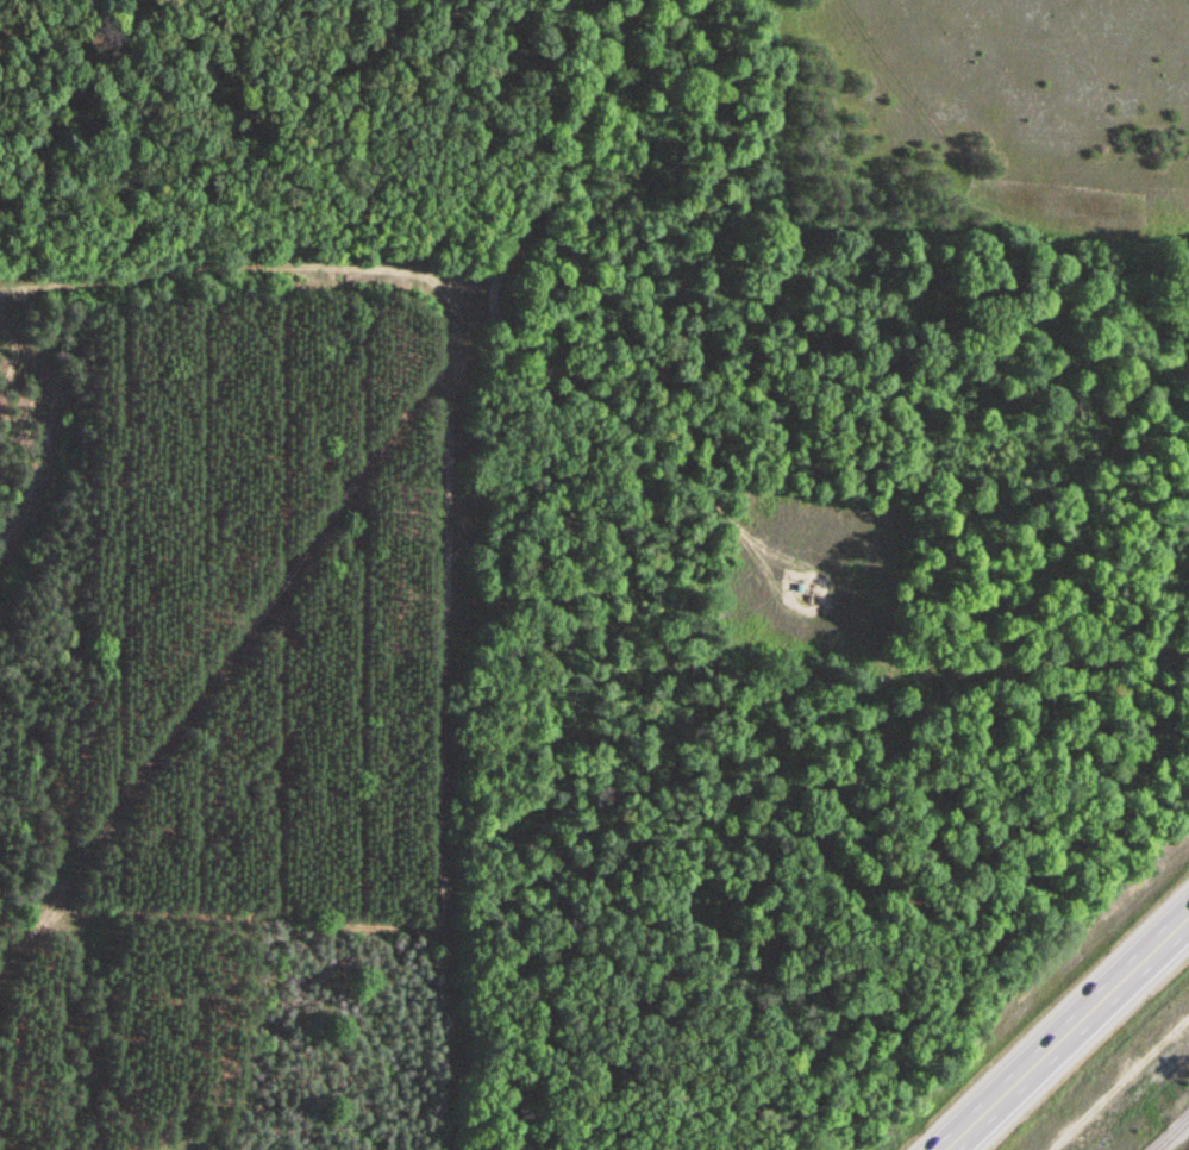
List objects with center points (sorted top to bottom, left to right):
road: (500, 304)
petroleum well: (808, 598)
road: (825, 621)
road: (1063, 1027)
road: (1124, 1087)
railway: (1172, 1133)

